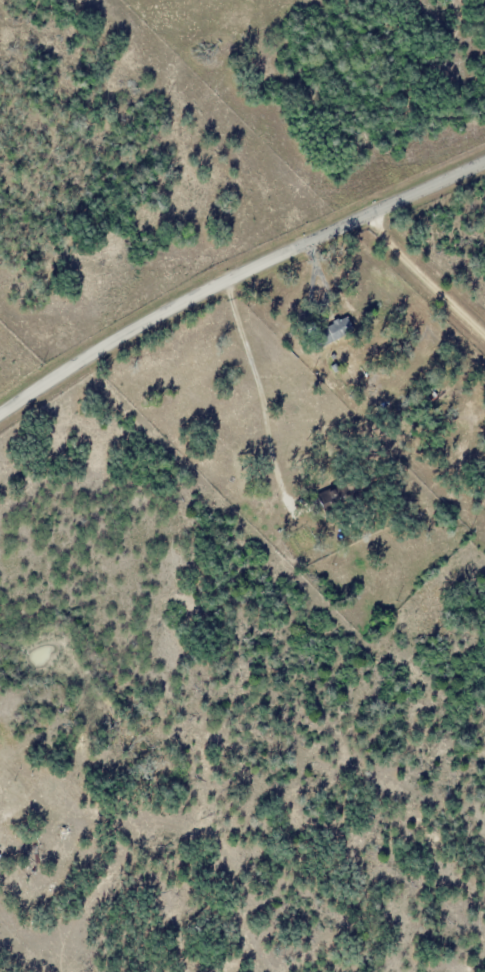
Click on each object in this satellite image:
road: (236, 274)
road: (422, 275)
building: (330, 332)

